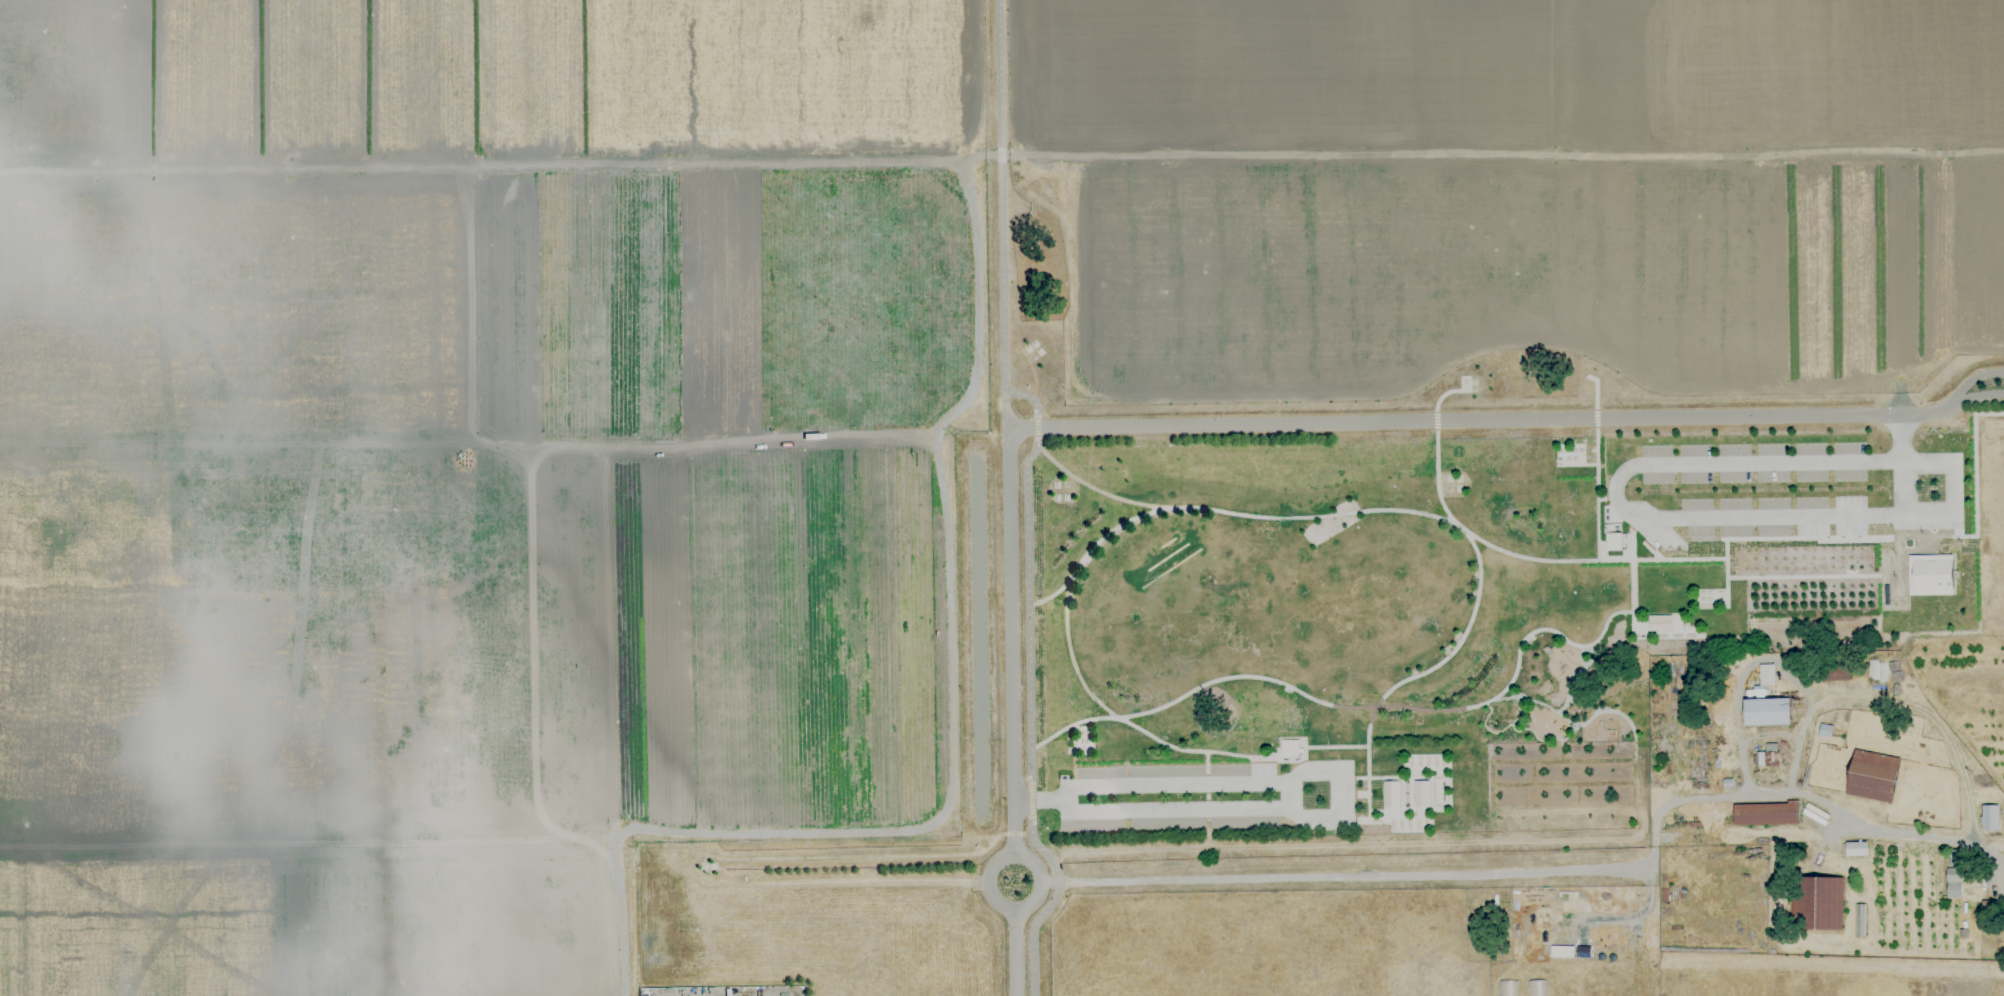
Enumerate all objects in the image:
road: (1228, 419)
road: (1596, 465)
road: (1097, 487)
road: (1901, 489)
parking lot: (1793, 491)
road: (1027, 493)
park: (1002, 498)
road: (1418, 512)
road: (1651, 519)
building: (1613, 542)
building: (1929, 575)
road: (1819, 576)
road: (1051, 586)
road: (1721, 599)
building: (1659, 622)
road: (1654, 632)
road: (1598, 638)
road: (1523, 639)
road: (1449, 653)
road: (1748, 666)
building: (1829, 673)
building: (1767, 675)
road: (1533, 702)
road: (1349, 707)
building: (1767, 712)
building: (1825, 731)
road: (1768, 734)
building: (1289, 748)
road: (1560, 751)
building: (1768, 757)
road: (1532, 773)
building: (1873, 776)
road: (1445, 777)
road: (1367, 782)
road: (1488, 783)
road: (1634, 783)
building: (1727, 783)
road: (1561, 784)
road: (1299, 792)
building: (1420, 793)
building: (1391, 794)
parking lot: (1178, 795)
road: (1576, 795)
road: (1331, 814)
building: (1767, 814)
crop: (1826, 818)
building: (1990, 819)
road: (1895, 834)
road: (1341, 845)
road: (884, 849)
building: (1856, 849)
building: (1955, 875)
road: (1428, 876)
building: (1818, 903)
building: (1986, 906)
road: (1635, 917)
building: (1861, 920)
building: (1964, 933)

